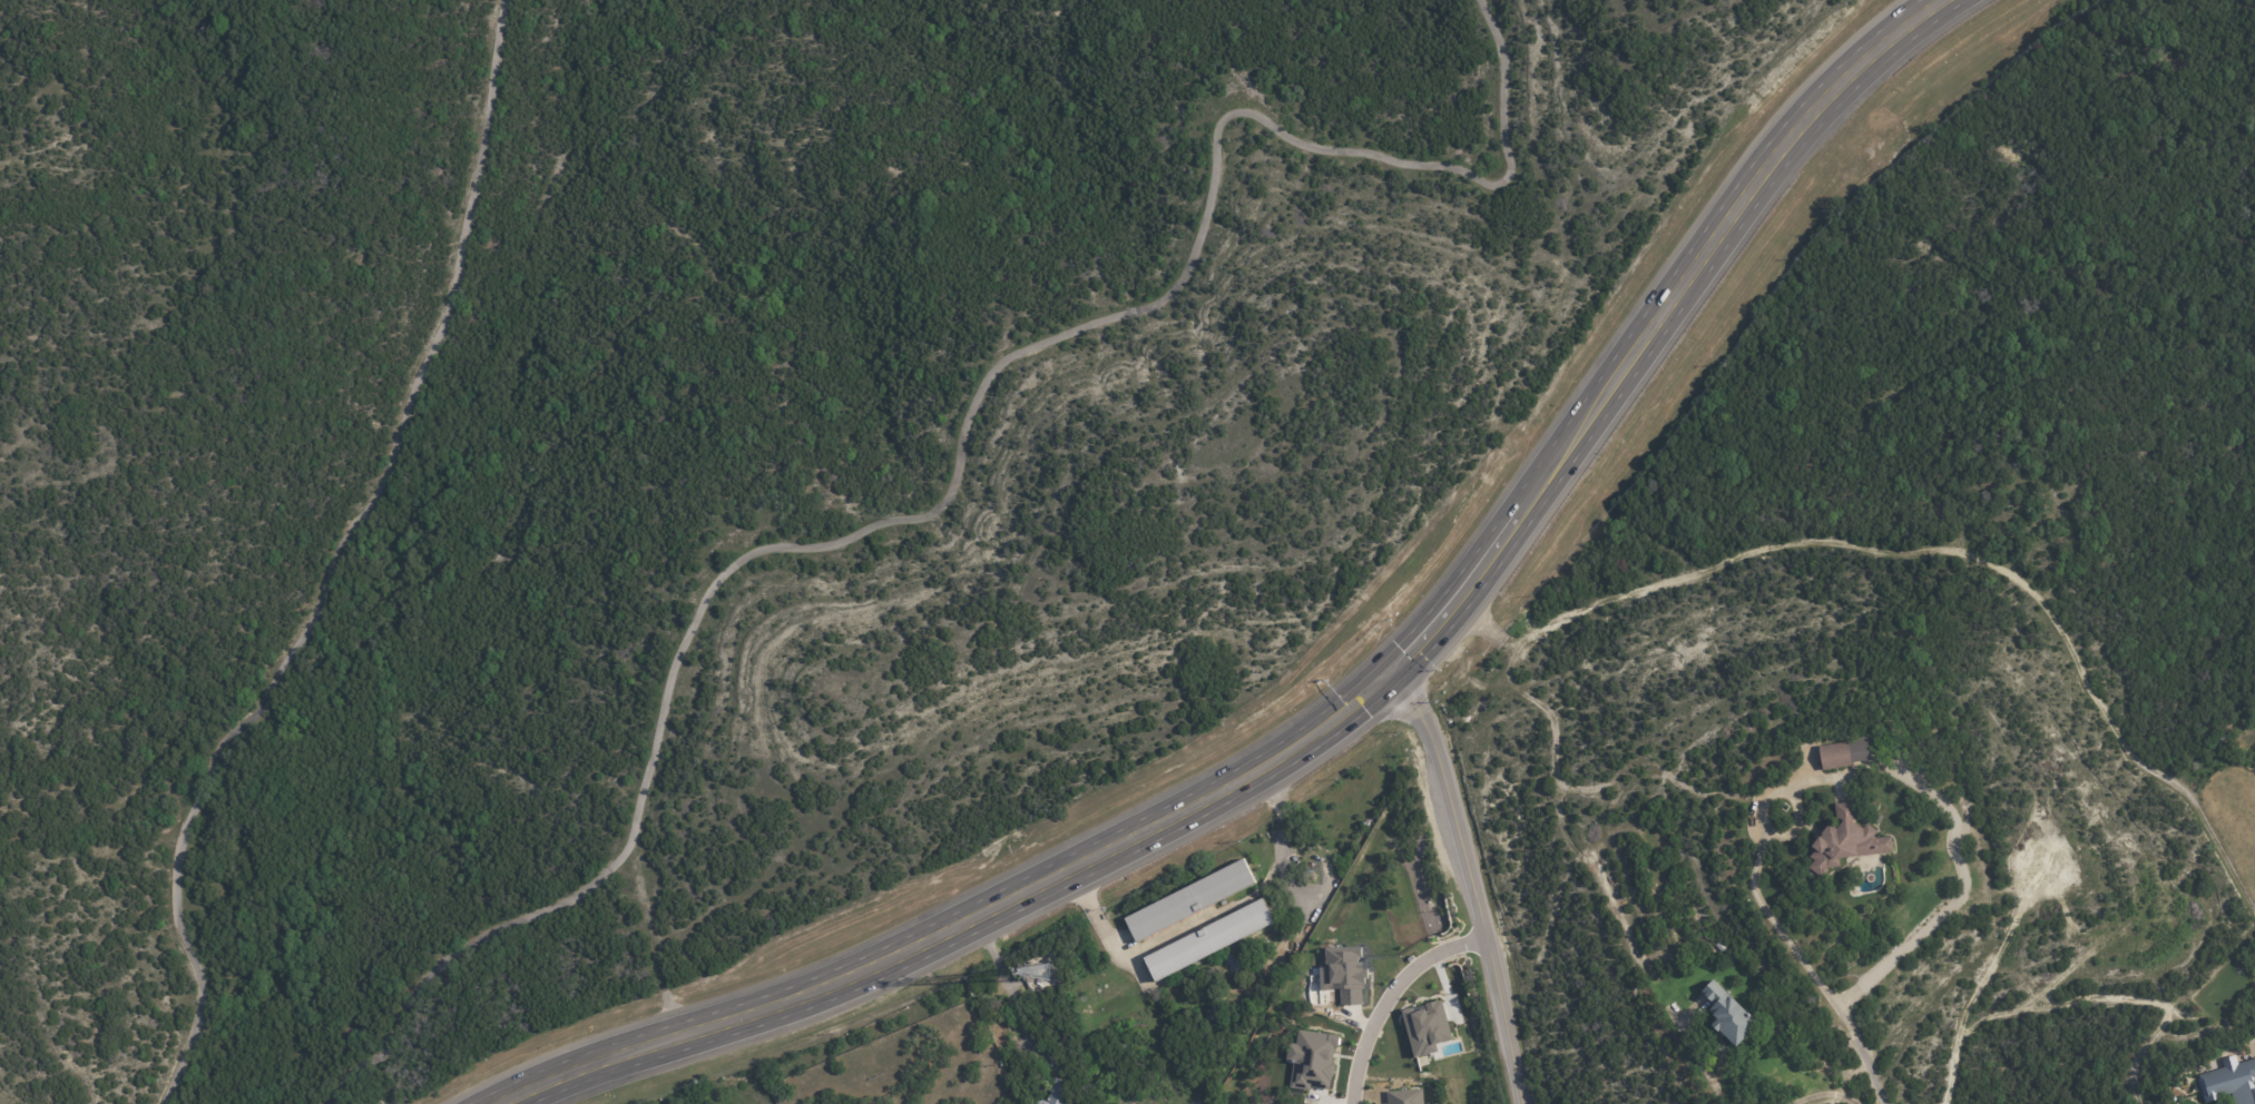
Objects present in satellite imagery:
road: (1707, 243)
road: (1928, 548)
road: (1451, 599)
building: (1871, 724)
building: (1893, 741)
building: (1840, 752)
road: (1559, 804)
road: (1952, 812)
building: (1877, 819)
road: (1281, 829)
building: (1843, 840)
building: (1320, 864)
road: (1470, 880)
building: (1189, 900)
road: (961, 926)
building: (1227, 940)
road: (1125, 950)
building: (1723, 952)
building: (1032, 966)
building: (1235, 966)
building: (1286, 968)
road: (1810, 972)
road: (1008, 990)
road: (1390, 996)
building: (1143, 1005)
building: (1727, 1016)
road: (1967, 1021)
building: (1425, 1028)
building: (1312, 1061)
road: (2139, 1062)
road: (1705, 1066)
building: (2229, 1082)
building: (1060, 1093)
road: (1827, 1100)
building: (1396, 1101)

